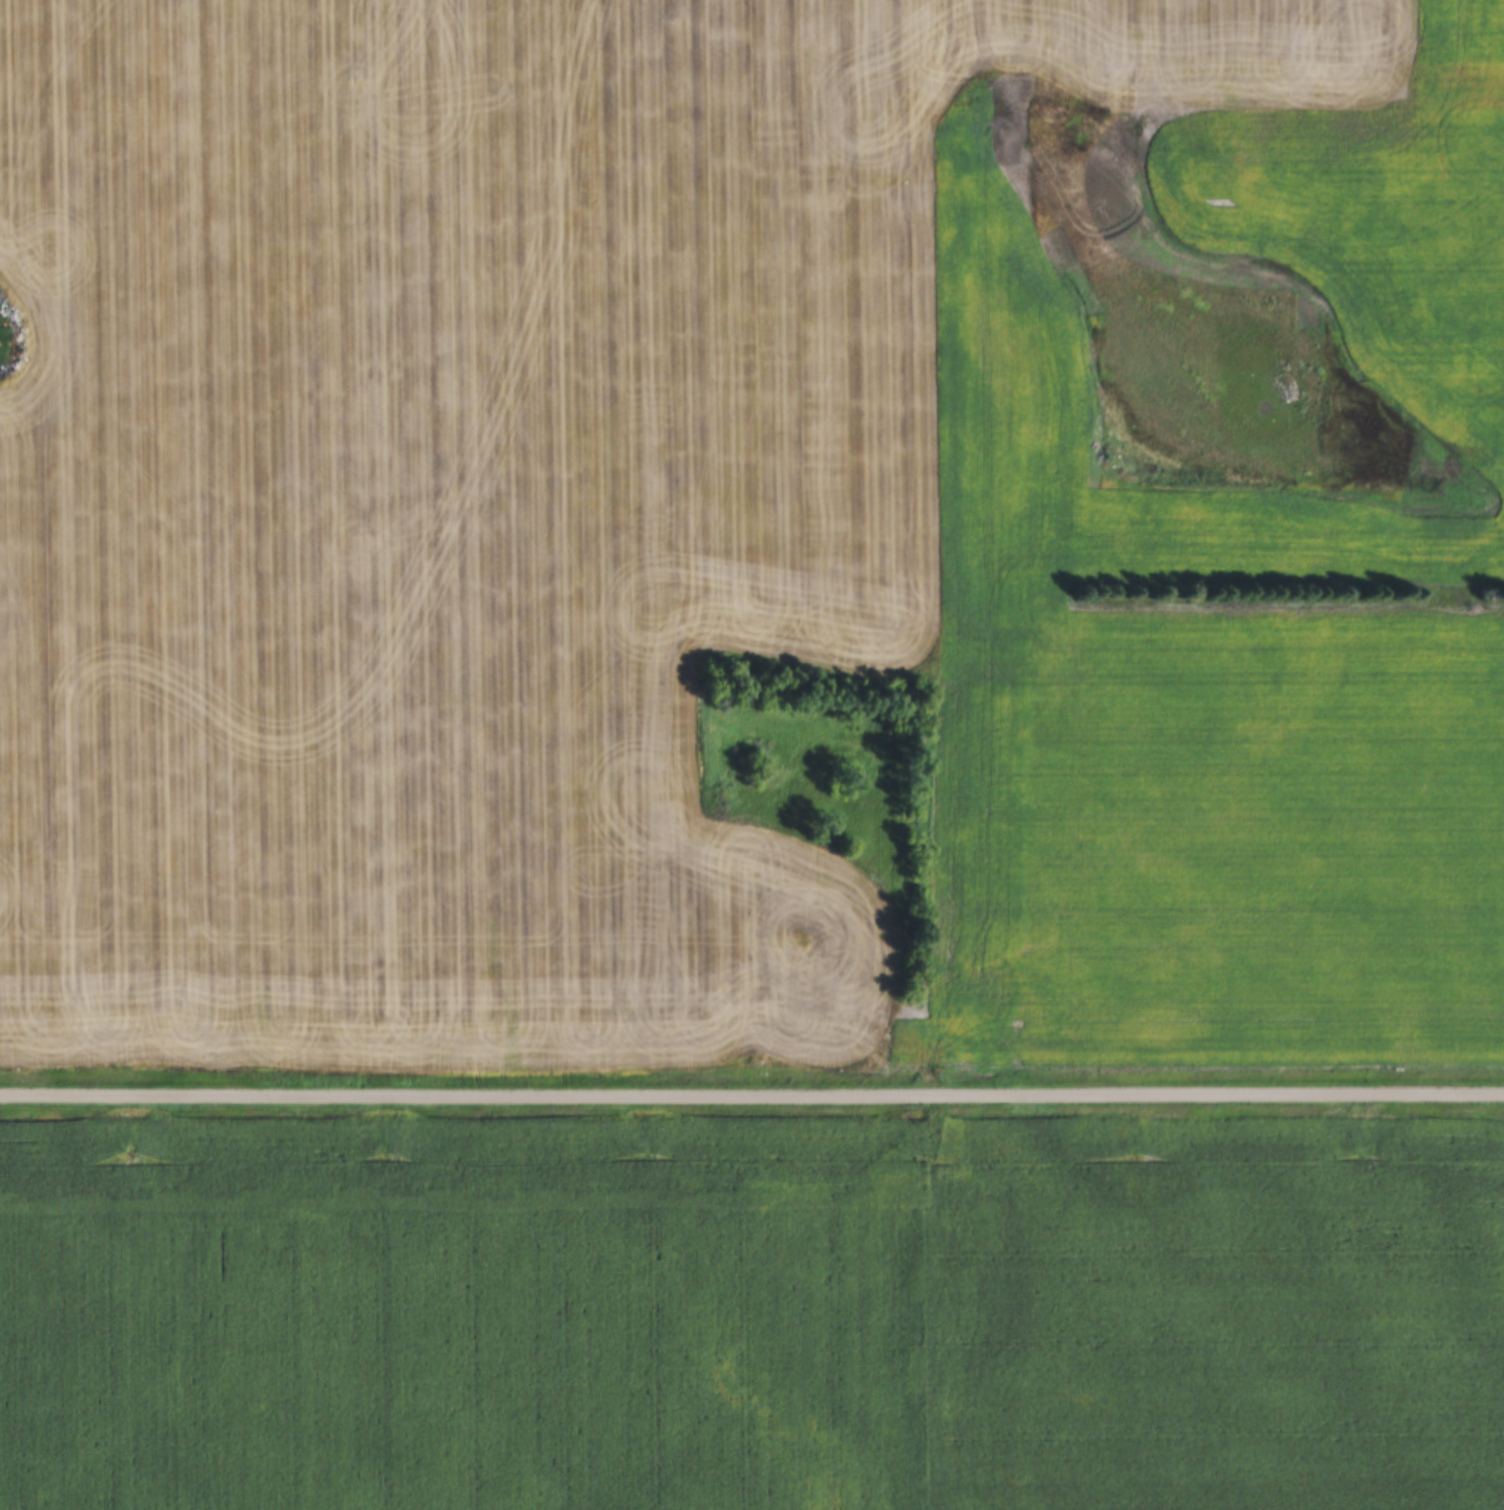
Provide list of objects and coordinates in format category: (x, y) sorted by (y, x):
road: (751, 1088)

